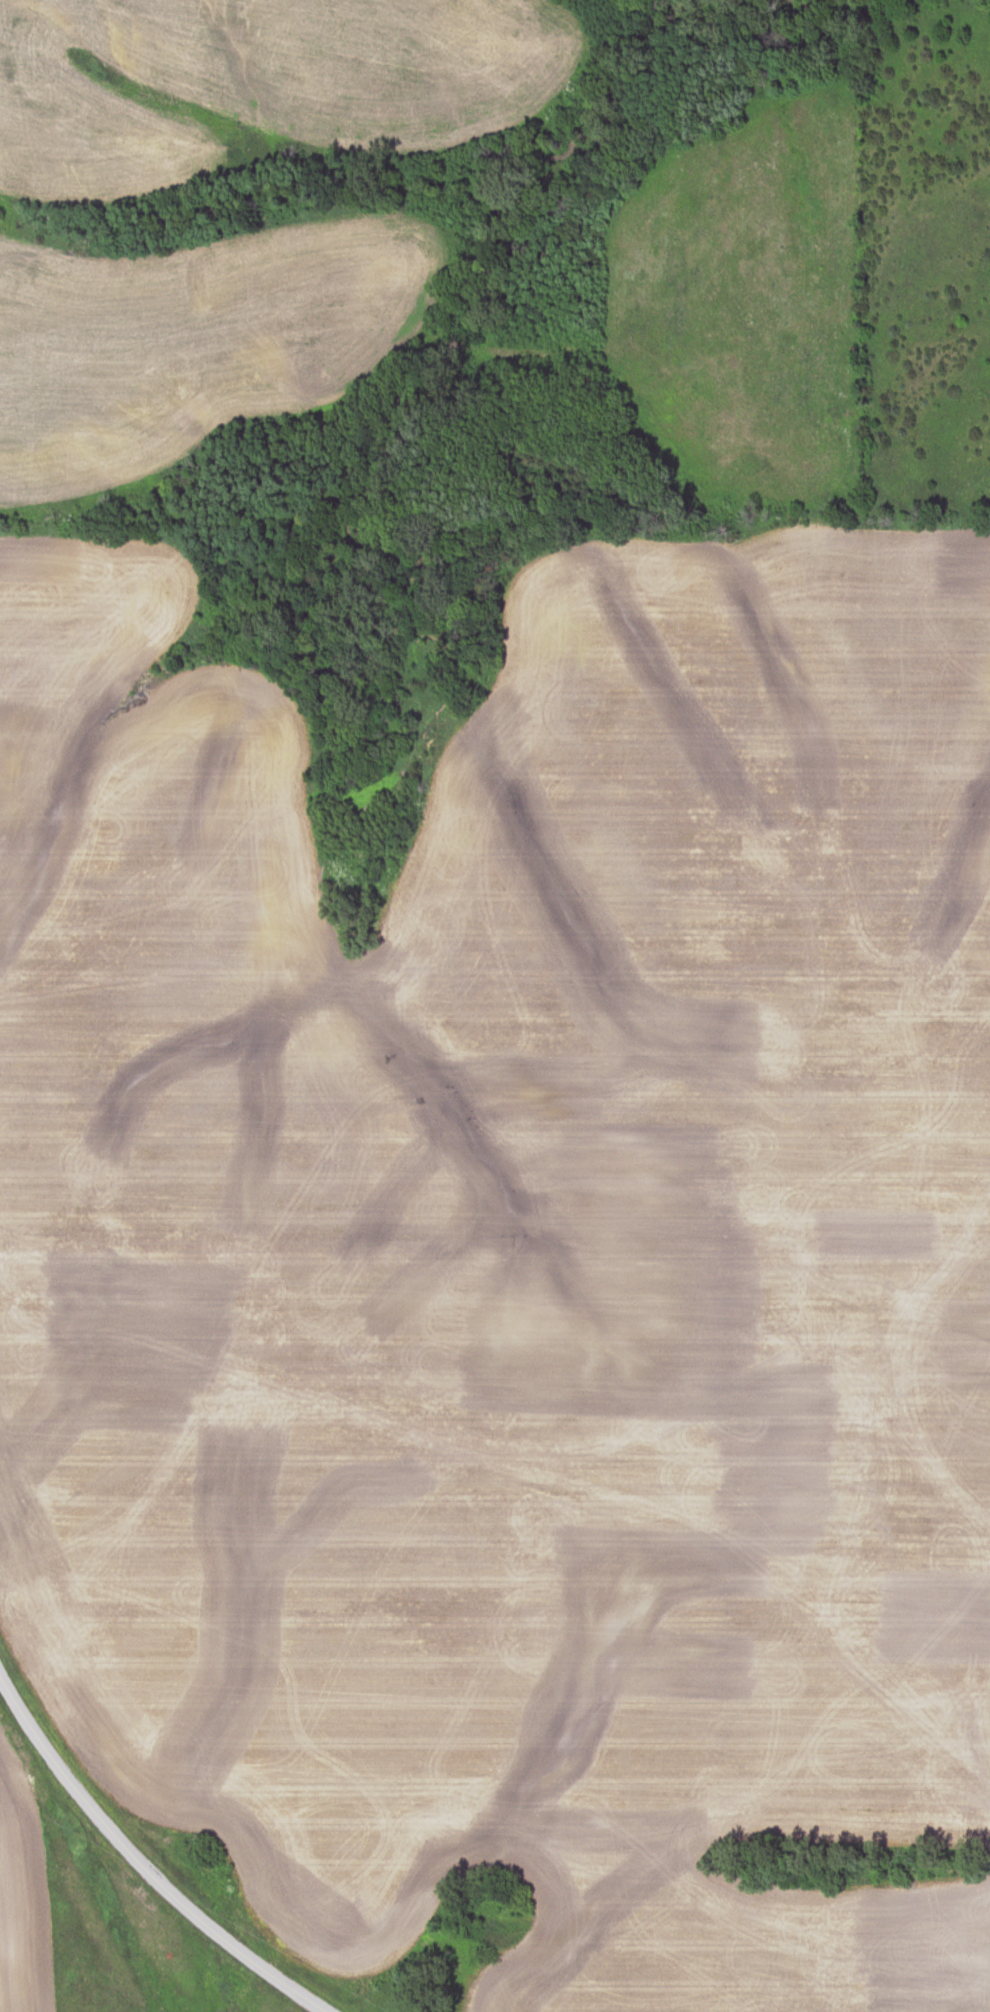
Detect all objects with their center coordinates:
road: (148, 1861)

